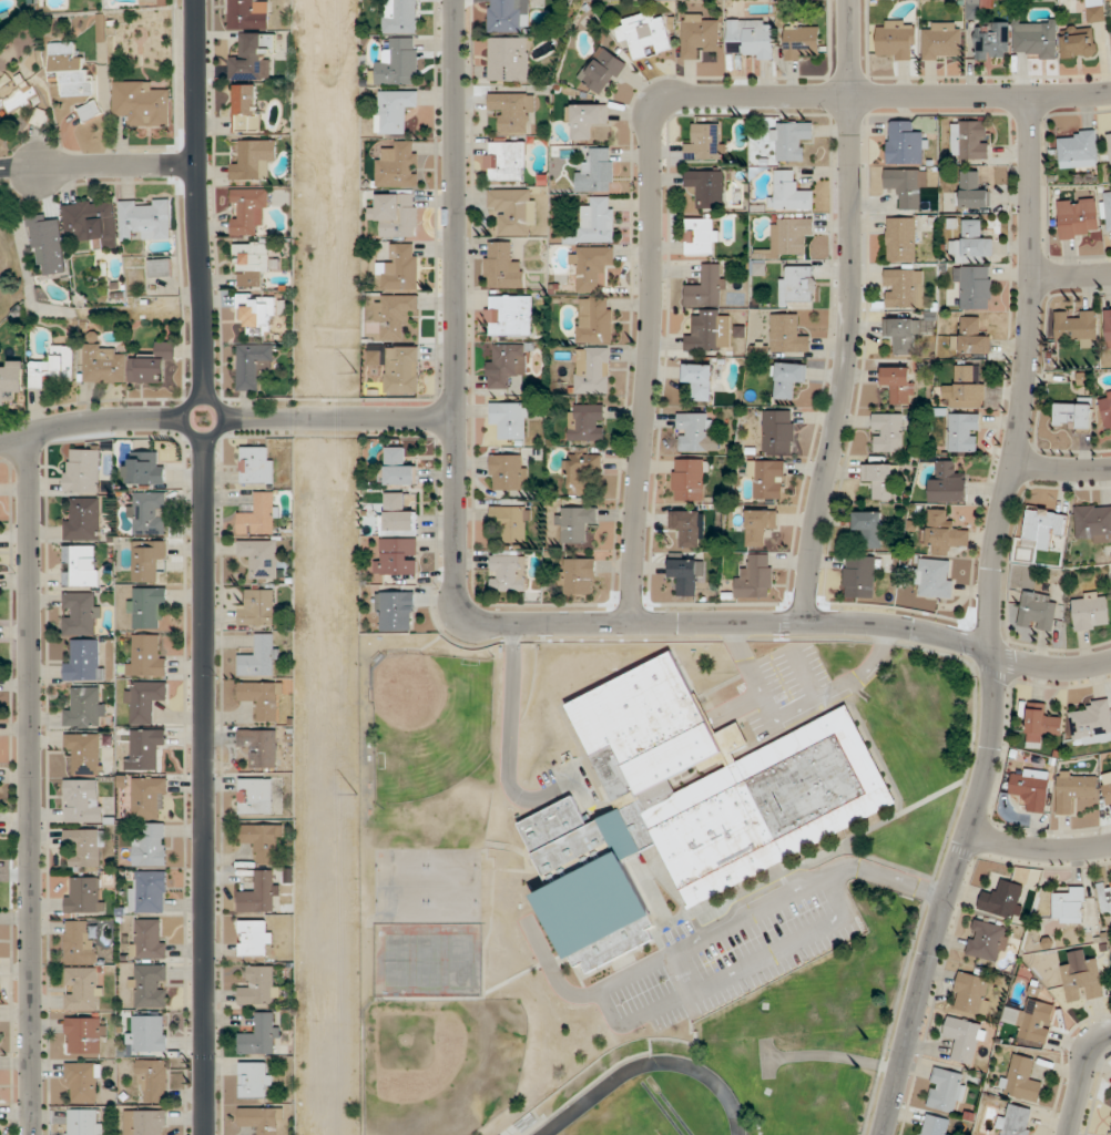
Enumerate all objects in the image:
building: (1095, 11)
building: (248, 14)
building: (401, 16)
building: (509, 16)
building: (1110, 25)
building: (699, 32)
building: (644, 33)
building: (752, 38)
building: (897, 39)
building: (1038, 39)
building: (941, 40)
building: (991, 40)
building: (1079, 41)
building: (803, 42)
building: (253, 58)
building: (509, 59)
building: (397, 63)
building: (69, 69)
building: (603, 71)
building: (141, 103)
building: (246, 108)
building: (89, 110)
building: (395, 110)
building: (513, 110)
building: (587, 120)
road: (651, 137)
building: (970, 139)
building: (791, 140)
building: (705, 142)
building: (906, 143)
building: (1079, 146)
building: (253, 160)
building: (506, 161)
building: (398, 165)
road: (99, 166)
building: (597, 171)
building: (906, 185)
building: (707, 187)
building: (972, 190)
building: (789, 192)
road: (200, 200)
building: (513, 207)
building: (1109, 207)
building: (248, 212)
building: (397, 215)
building: (145, 218)
building: (91, 219)
building: (1079, 219)
building: (598, 221)
building: (702, 235)
building: (791, 235)
building: (901, 238)
building: (972, 244)
building: (50, 245)
building: (252, 263)
building: (502, 266)
building: (592, 266)
park: (9, 267)
building: (160, 267)
building: (401, 267)
road: (1071, 275)
building: (797, 283)
building: (975, 285)
building: (707, 286)
building: (904, 287)
building: (258, 310)
road: (849, 313)
building: (395, 316)
building: (510, 316)
building: (595, 319)
building: (1077, 328)
building: (1109, 328)
building: (710, 334)
building: (787, 334)
building: (903, 335)
building: (971, 337)
building: (103, 364)
building: (253, 364)
building: (154, 365)
building: (506, 365)
building: (53, 366)
building: (402, 368)
building: (592, 369)
building: (789, 378)
building: (11, 379)
building: (700, 380)
building: (899, 384)
building: (965, 387)
road: (213, 403)
building: (1105, 407)
building: (1073, 415)
road: (337, 418)
building: (510, 420)
road: (90, 421)
building: (587, 421)
building: (695, 431)
building: (779, 431)
building: (888, 431)
building: (964, 432)
building: (257, 464)
building: (399, 467)
building: (145, 468)
road: (1061, 469)
building: (82, 470)
building: (582, 470)
building: (508, 472)
building: (690, 479)
building: (767, 479)
building: (879, 479)
building: (948, 482)
building: (149, 512)
building: (400, 513)
building: (259, 515)
building: (82, 519)
building: (513, 521)
building: (577, 522)
building: (1093, 522)
building: (761, 525)
building: (1044, 525)
building: (687, 526)
building: (869, 528)
building: (942, 533)
building: (261, 556)
building: (399, 556)
building: (147, 560)
building: (80, 564)
building: (508, 571)
building: (687, 574)
building: (579, 575)
building: (860, 576)
building: (755, 577)
building: (935, 577)
building: (146, 606)
building: (258, 607)
building: (397, 611)
building: (1038, 611)
building: (1091, 611)
building: (81, 613)
road: (483, 621)
road: (989, 622)
road: (512, 632)
building: (147, 656)
building: (261, 656)
building: (85, 661)
road: (802, 675)
building: (262, 698)
building: (144, 701)
building: (85, 706)
road: (794, 708)
park: (428, 722)
building: (1042, 723)
building: (1092, 723)
building: (261, 746)
building: (145, 747)
road: (508, 748)
building: (86, 751)
building: (1110, 770)
road: (31, 785)
road: (202, 786)
building: (1031, 789)
building: (1076, 789)
building: (1108, 793)
building: (255, 795)
building: (147, 796)
building: (83, 800)
building: (687, 805)
building: (263, 841)
building: (86, 846)
building: (150, 846)
road: (1038, 849)
road: (885, 878)
park: (429, 885)
building: (149, 891)
building: (259, 892)
building: (84, 894)
building: (1105, 896)
building: (1003, 898)
building: (1070, 904)
building: (255, 937)
building: (149, 939)
building: (988, 940)
building: (81, 941)
park: (429, 958)
road: (554, 972)
road: (685, 972)
building: (1083, 980)
building: (151, 985)
building: (259, 985)
building: (81, 988)
building: (972, 993)
building: (1034, 1020)
road: (621, 1022)
building: (147, 1033)
building: (84, 1035)
building: (262, 1035)
building: (964, 1037)
road: (832, 1055)
road: (765, 1057)
park: (441, 1063)
building: (1021, 1077)
building: (154, 1078)
building: (256, 1078)
building: (83, 1081)
road: (1081, 1081)
building: (947, 1090)
building: (262, 1119)
park: (621, 1121)
building: (1016, 1121)
building: (84, 1122)
building: (145, 1122)
building: (935, 1125)
building: (1110, 1132)

